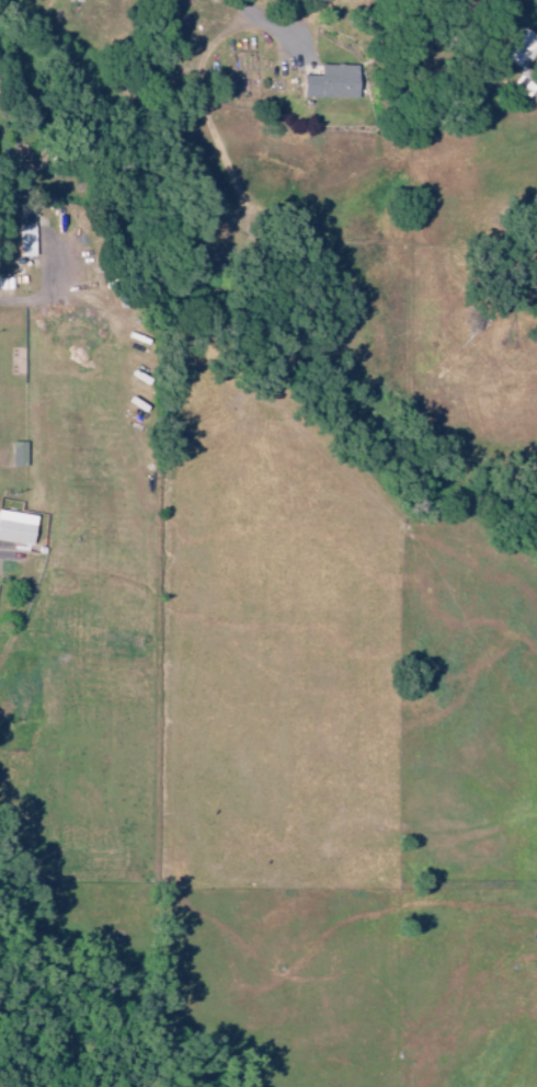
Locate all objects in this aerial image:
building: (518, 48)
building: (329, 82)
building: (24, 236)
building: (16, 454)
building: (15, 528)
road: (14, 557)

